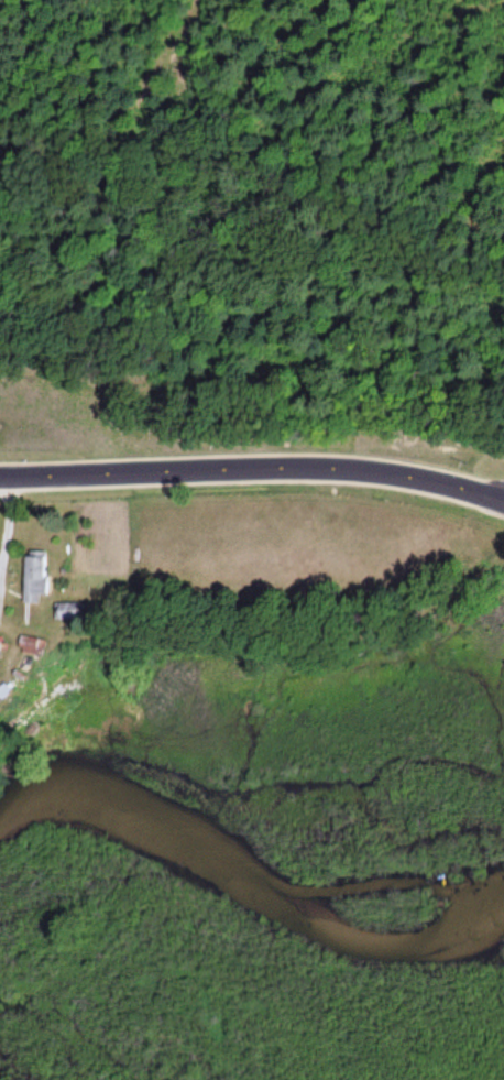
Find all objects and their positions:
road: (253, 470)
building: (35, 579)
building: (66, 612)
building: (0, 645)
river: (246, 883)

